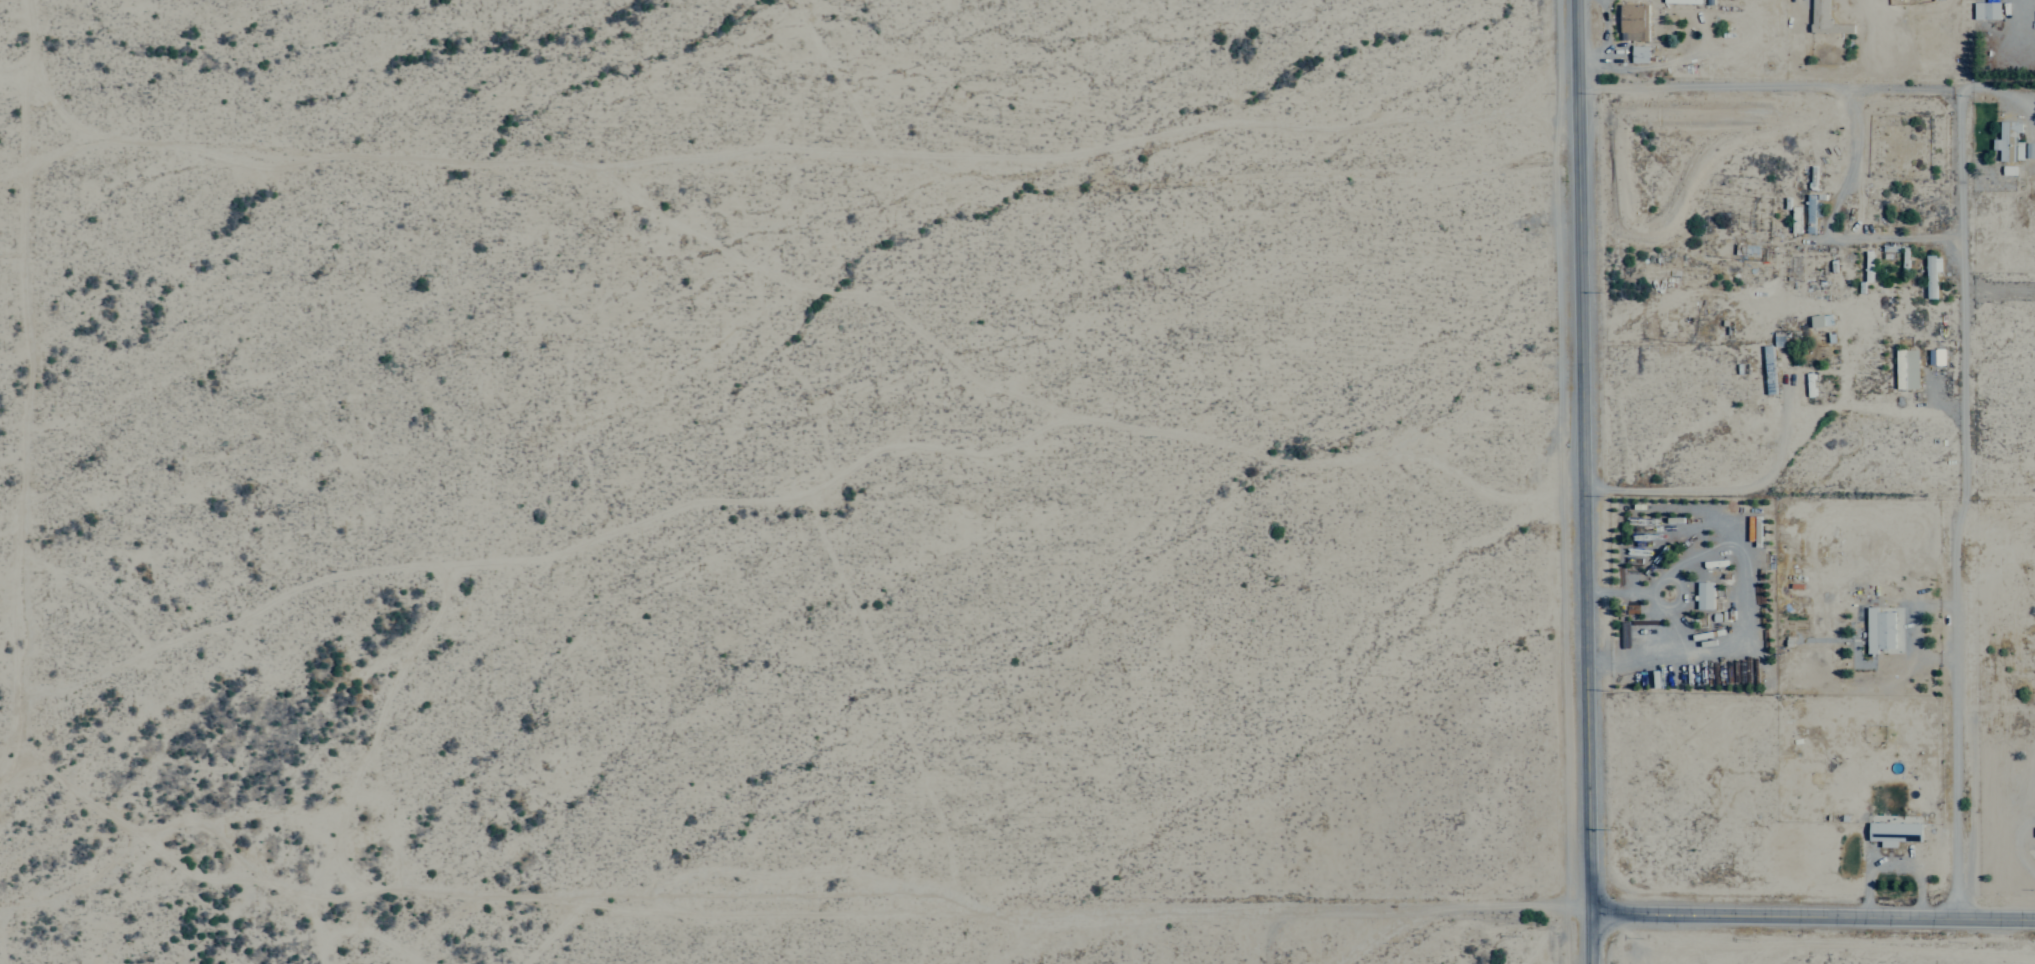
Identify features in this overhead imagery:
building: (1984, 10)
building: (1823, 19)
building: (1631, 22)
building: (1637, 54)
road: (1769, 83)
building: (2009, 143)
building: (1808, 214)
building: (1793, 220)
building: (1929, 270)
road: (1999, 286)
building: (1818, 319)
building: (1933, 356)
building: (1904, 368)
road: (1582, 453)
road: (1964, 498)
building: (1702, 595)
building: (1648, 628)
building: (1877, 629)
building: (1891, 832)
road: (1812, 909)
road: (1590, 935)

